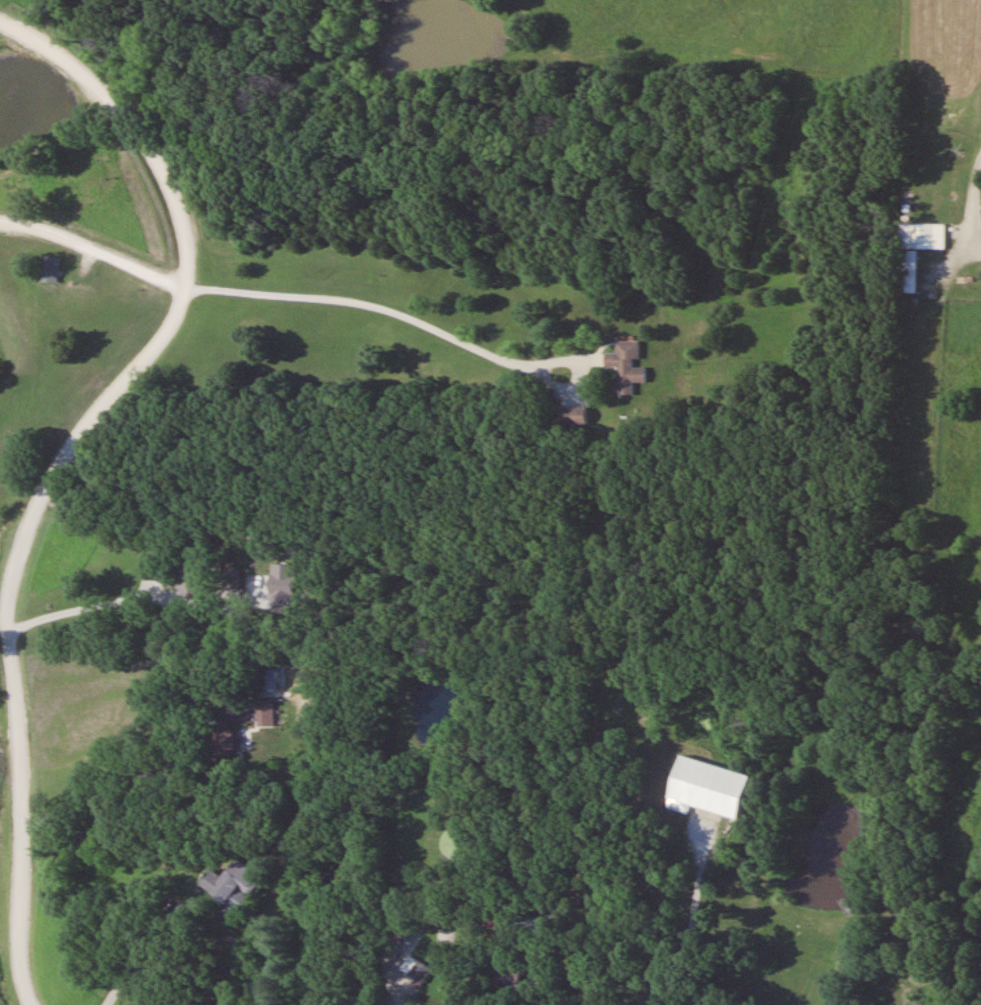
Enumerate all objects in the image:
building: (915, 250)
road: (94, 251)
building: (50, 268)
road: (392, 312)
building: (626, 366)
building: (575, 415)
road: (68, 465)
park: (460, 511)
building: (231, 587)
road: (5, 631)
building: (266, 712)
building: (228, 740)
building: (707, 786)
building: (234, 885)
building: (415, 969)
building: (506, 978)

